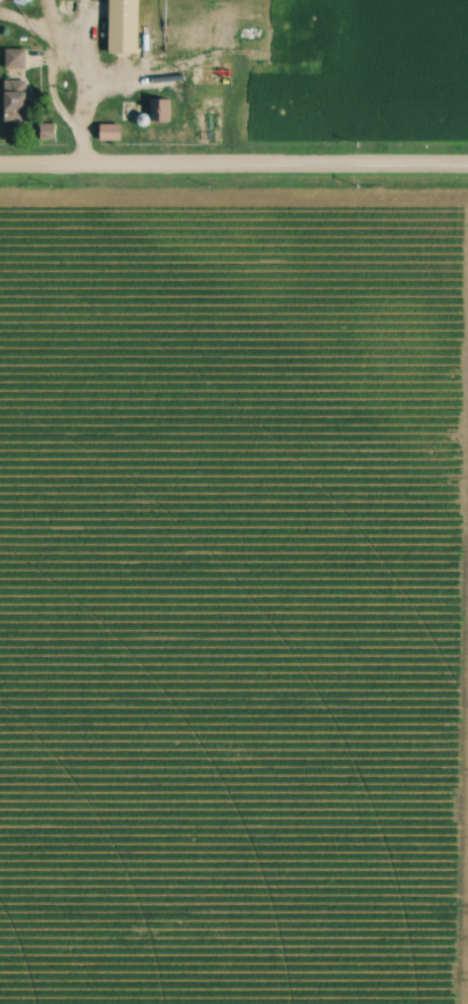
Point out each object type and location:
building: (126, 26)
building: (183, 35)
building: (17, 58)
building: (278, 64)
road: (84, 93)
building: (19, 106)
building: (49, 131)
road: (234, 170)

